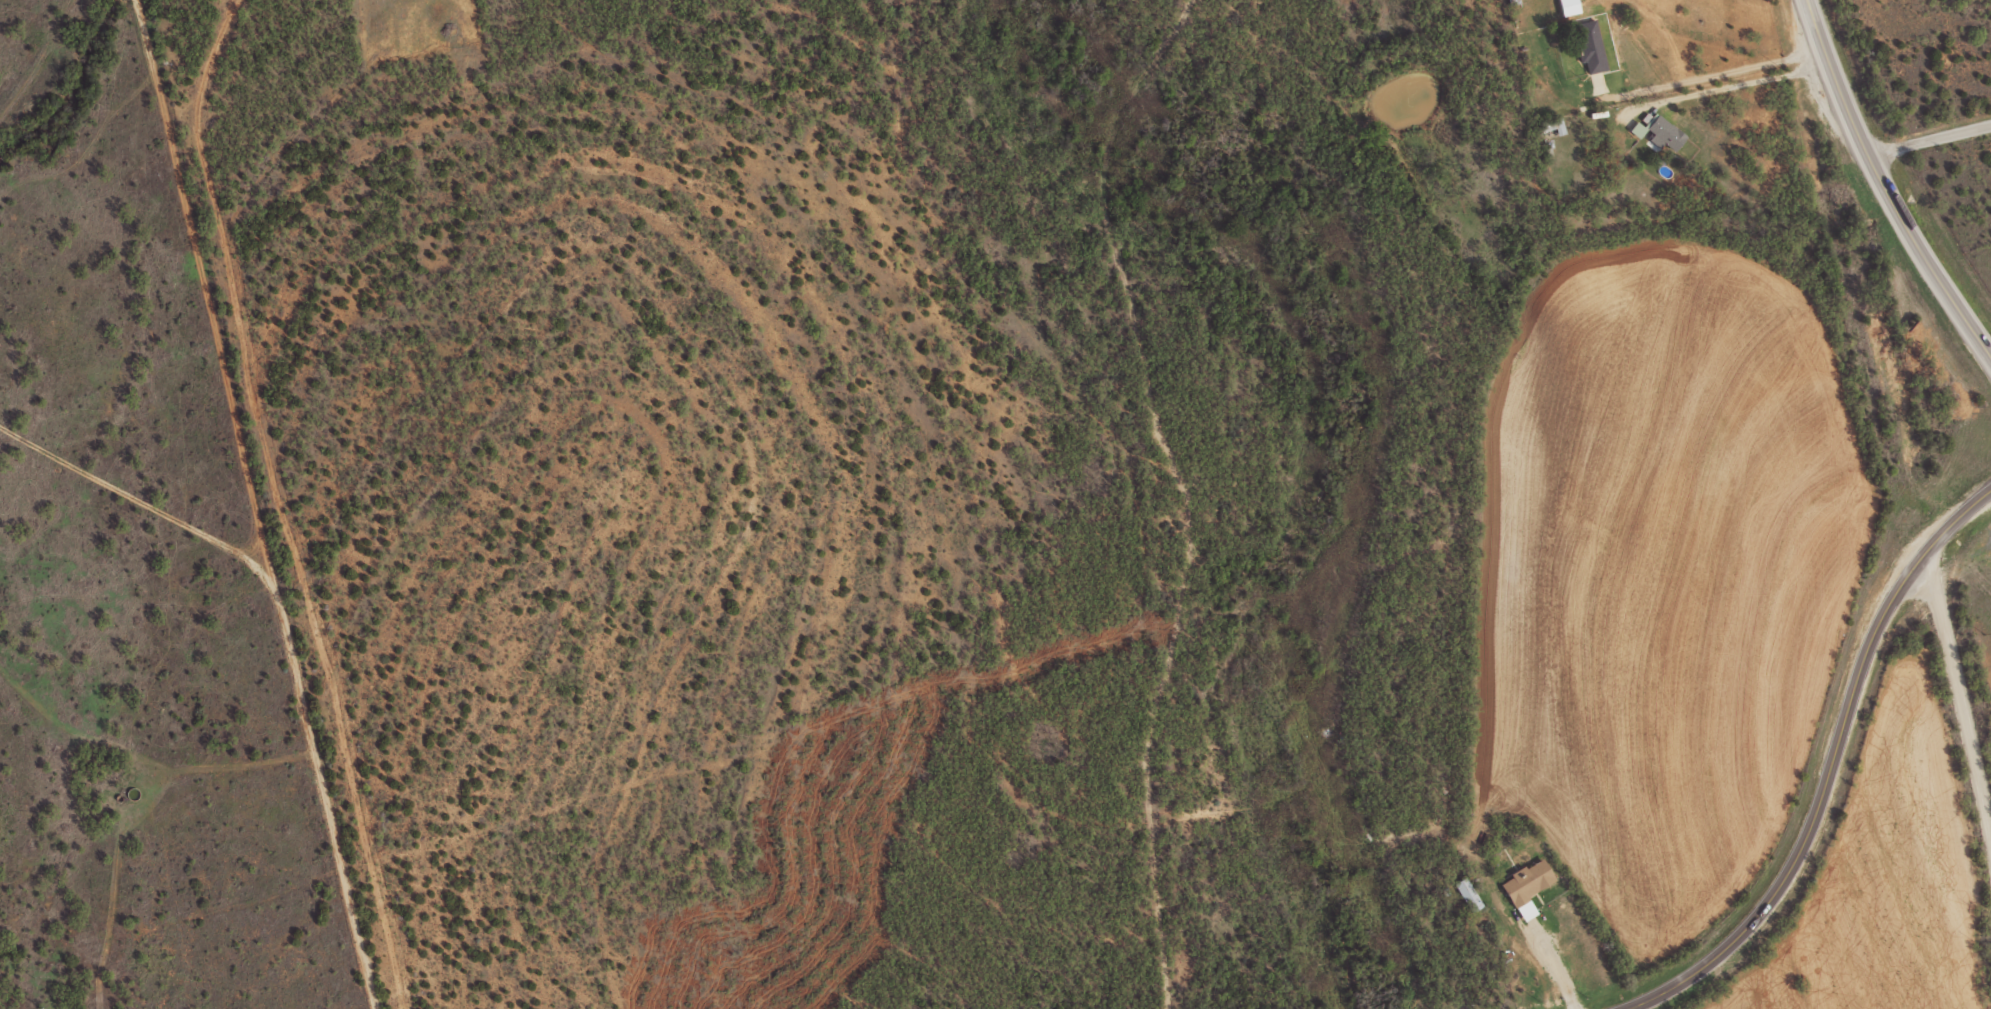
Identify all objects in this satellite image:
building: (1569, 7)
building: (1591, 47)
building: (1637, 129)
building: (1666, 134)
road: (1928, 140)
road: (1884, 187)
road: (1957, 690)
road: (1828, 766)
building: (1528, 886)
building: (1468, 894)

